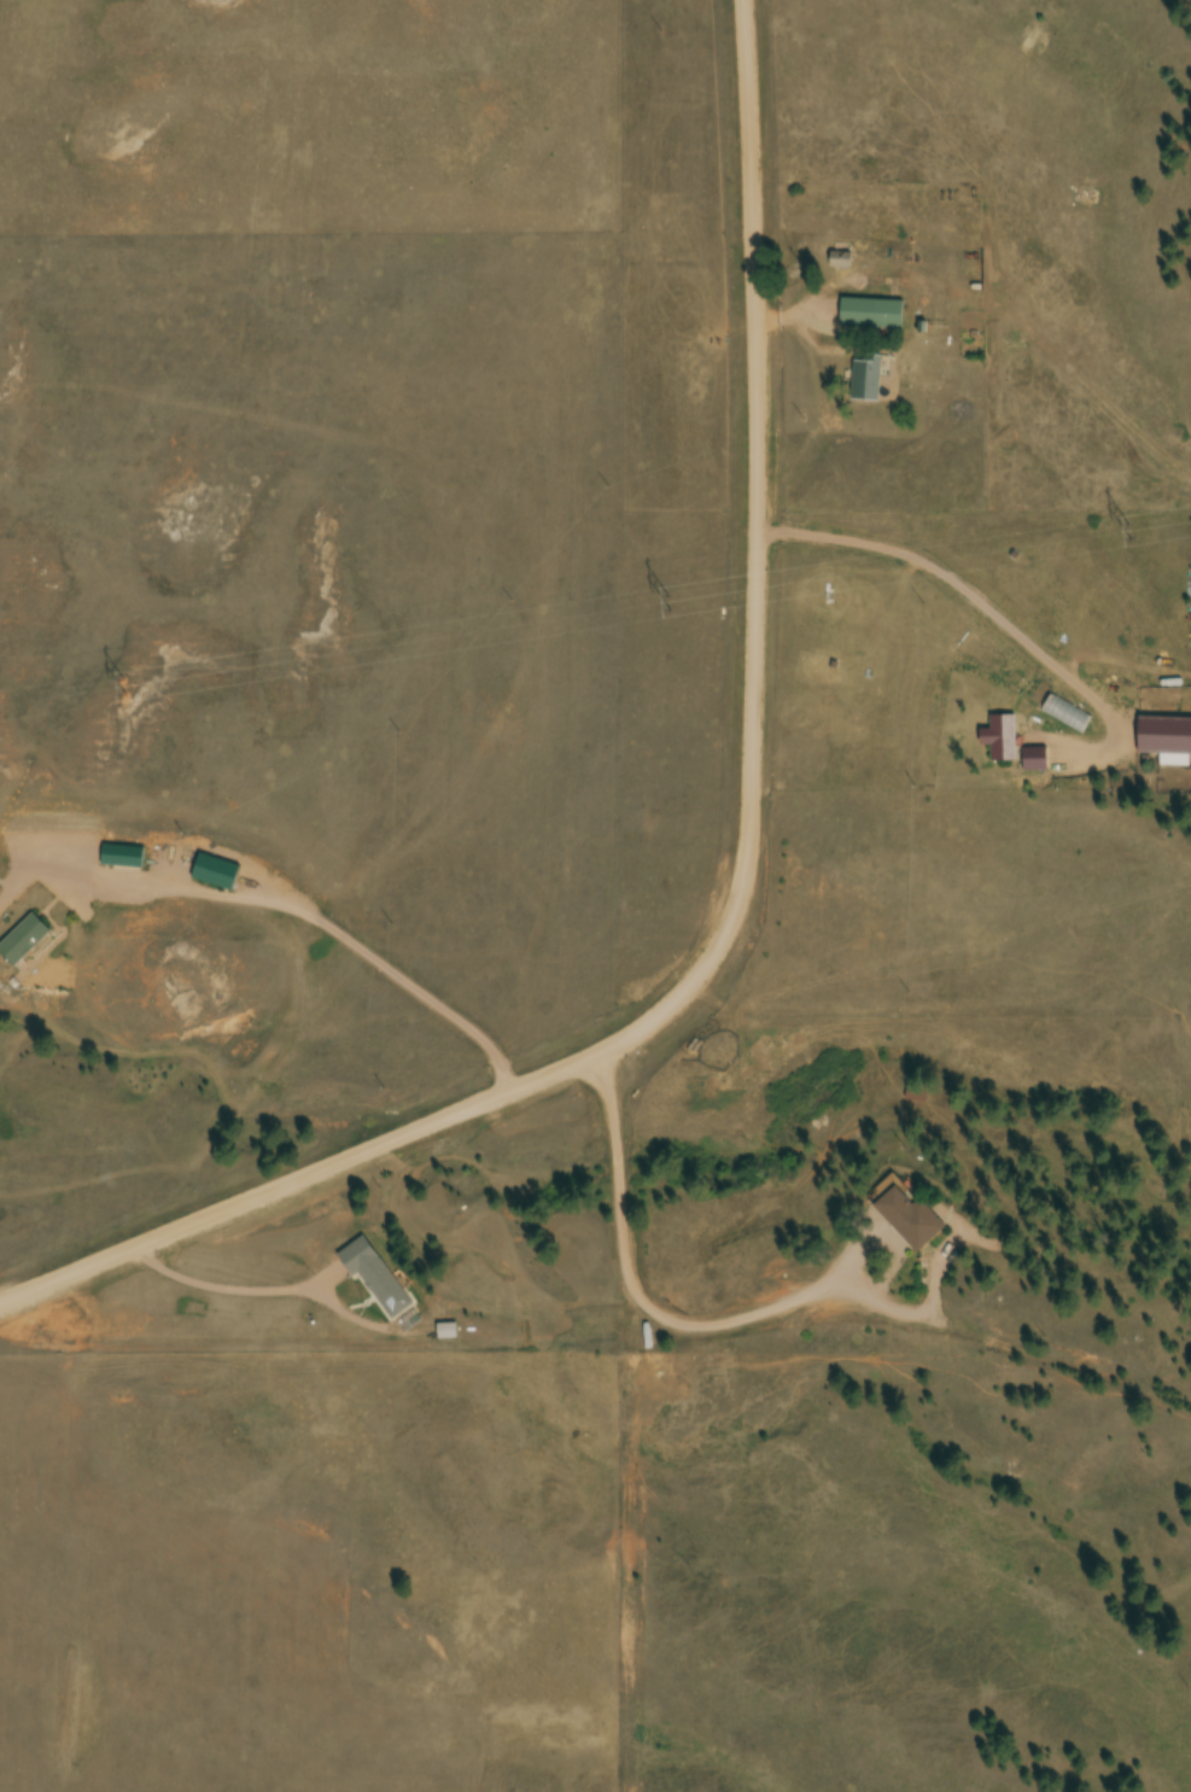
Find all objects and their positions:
building: (842, 258)
building: (871, 316)
building: (866, 384)
power tower: (1129, 533)
power tower: (667, 602)
power tower: (122, 683)
building: (1004, 741)
building: (1035, 761)
building: (123, 858)
building: (217, 874)
road: (743, 882)
building: (24, 941)
building: (918, 1095)
building: (911, 1220)
road: (629, 1278)
building: (376, 1279)
building: (448, 1335)

